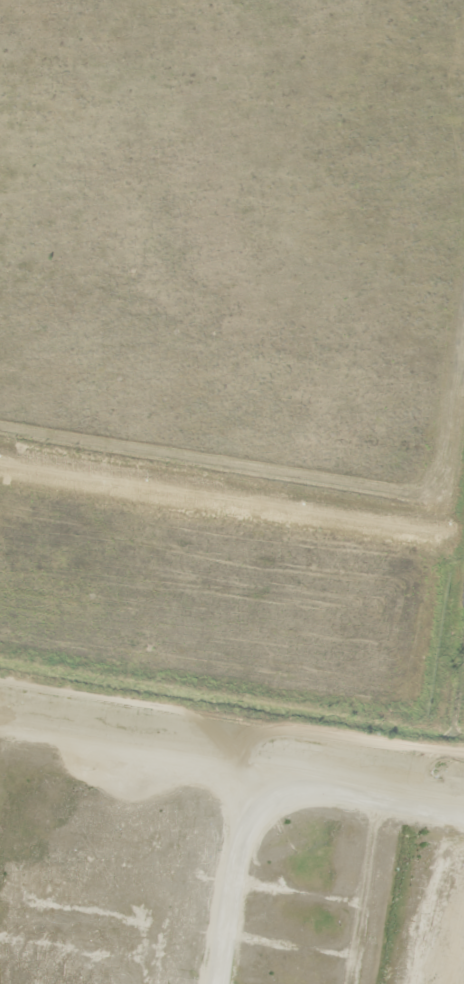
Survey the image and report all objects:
road: (232, 725)
road: (270, 798)

